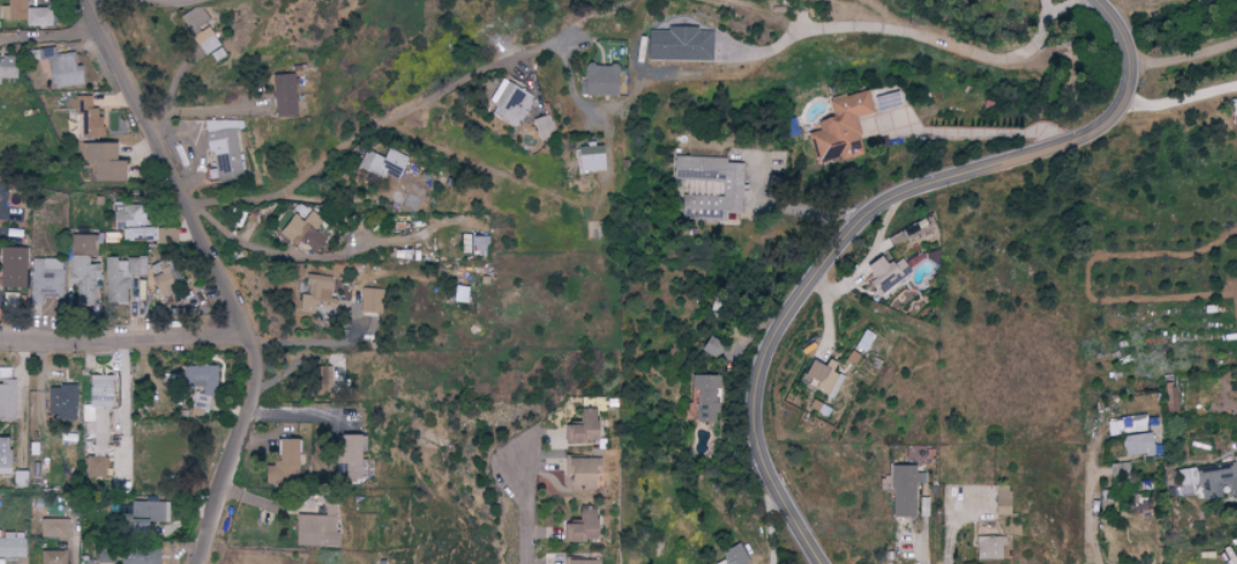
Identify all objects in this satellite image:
building: (24, 13)
building: (194, 18)
road: (908, 30)
road: (50, 35)
building: (208, 42)
building: (679, 45)
road: (1187, 50)
building: (59, 68)
building: (600, 80)
building: (284, 95)
road: (1181, 99)
building: (510, 106)
road: (203, 110)
building: (87, 119)
road: (374, 126)
building: (544, 126)
building: (840, 127)
road: (978, 132)
building: (225, 149)
building: (590, 159)
building: (100, 164)
building: (385, 164)
building: (734, 190)
building: (410, 203)
building: (6, 207)
road: (867, 212)
building: (130, 223)
building: (252, 232)
building: (303, 232)
building: (480, 243)
road: (868, 258)
building: (83, 267)
building: (12, 268)
building: (885, 274)
road: (220, 275)
building: (45, 279)
building: (120, 279)
building: (165, 280)
building: (316, 295)
building: (459, 295)
building: (370, 301)
road: (125, 338)
building: (863, 342)
road: (311, 344)
building: (714, 347)
building: (825, 375)
building: (200, 386)
road: (124, 388)
building: (98, 392)
building: (1171, 397)
building: (707, 398)
building: (6, 400)
road: (23, 400)
building: (61, 403)
building: (1135, 425)
building: (580, 428)
building: (1114, 428)
building: (1137, 445)
road: (124, 454)
building: (4, 457)
building: (350, 460)
building: (285, 461)
building: (93, 468)
building: (1119, 469)
building: (581, 472)
building: (1209, 480)
building: (1141, 489)
building: (904, 491)
building: (1001, 500)
road: (1088, 508)
building: (148, 511)
road: (526, 517)
road: (944, 523)
building: (137, 528)
building: (579, 528)
building: (52, 529)
building: (12, 546)
road: (917, 547)
building: (988, 548)
road: (74, 551)
building: (137, 554)
building: (734, 556)
building: (49, 557)
building: (583, 562)

